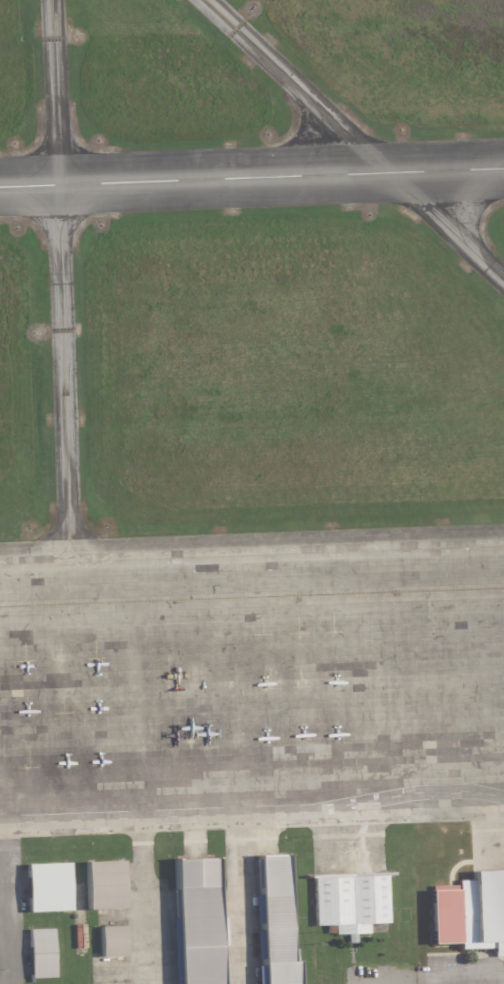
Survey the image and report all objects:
airport taxiway: (306, 96)
airport taxiway: (315, 149)
airport taxiway: (38, 168)
airport taxiway: (80, 169)
airport runway: (252, 178)
airport taxiway: (79, 196)
airport taxiway: (39, 201)
airport taxiway: (432, 211)
airport taxiway: (456, 222)
airport taxiway: (60, 288)
airport: (252, 492)
airport taxiway: (76, 552)
airport taxiway: (252, 554)
airport apron: (253, 678)
airport hangar: (103, 885)
building: (103, 885)
airport hangar: (45, 887)
building: (45, 887)
airport hangar: (349, 901)
building: (349, 901)
airport hangar: (469, 911)
building: (469, 911)
airport hangar: (199, 921)
building: (199, 921)
airport hangar: (272, 922)
building: (272, 922)
airport hangar: (111, 942)
building: (111, 942)
airport hangar: (40, 953)
building: (40, 953)
road: (464, 973)

